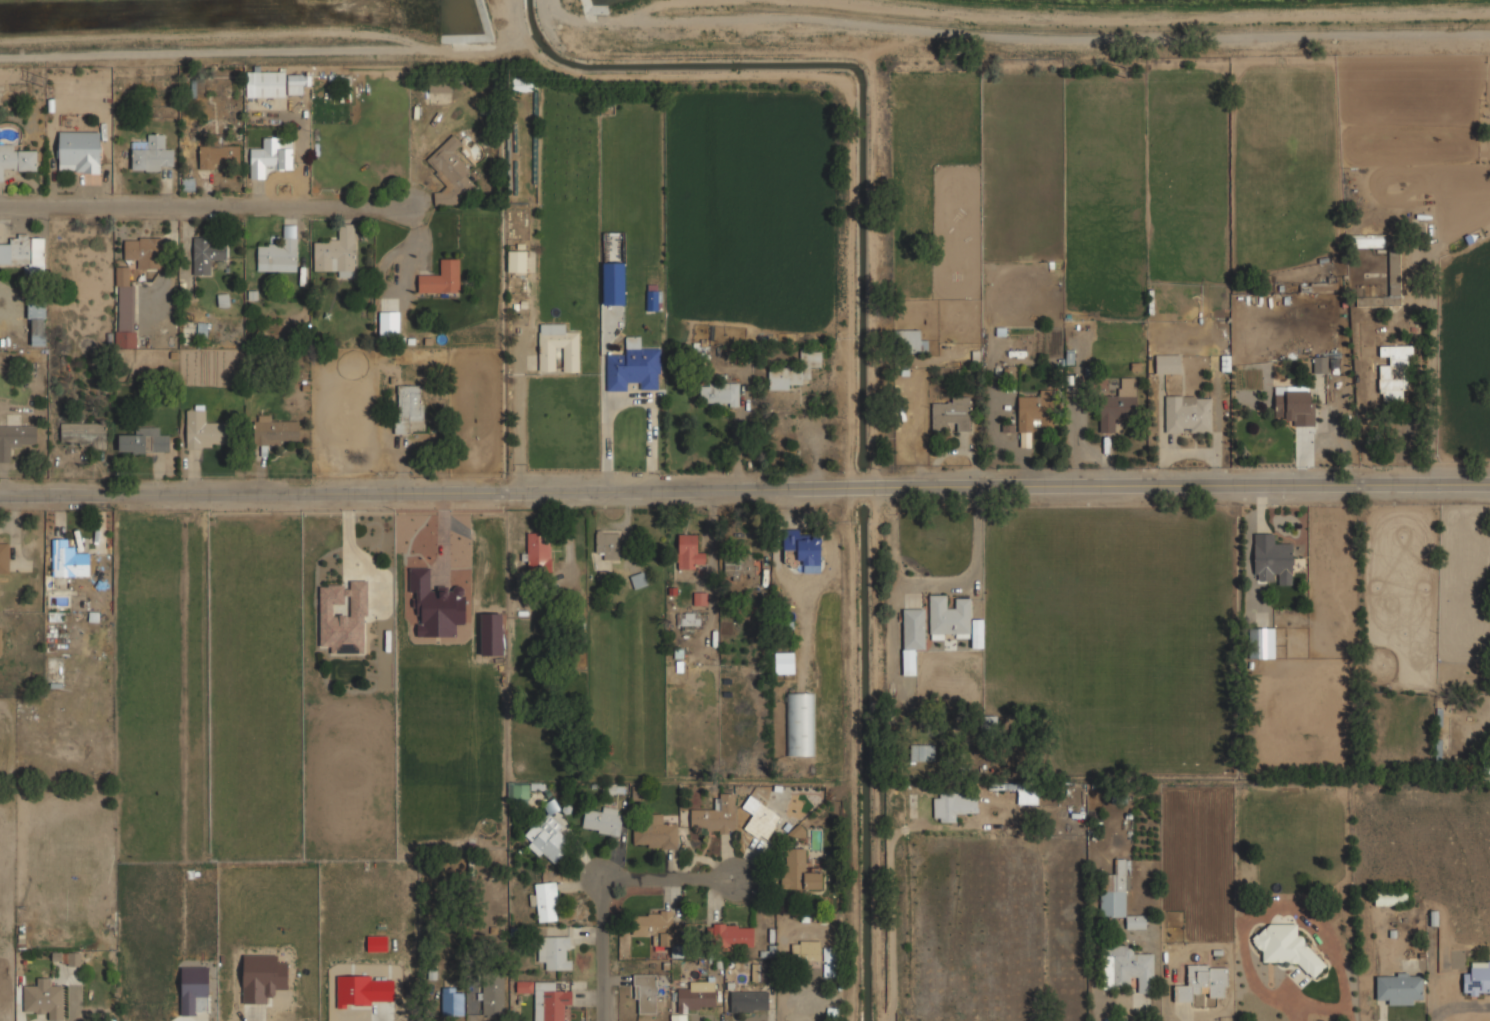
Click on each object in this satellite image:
building: (296, 83)
building: (265, 84)
building: (522, 84)
building: (439, 86)
building: (79, 151)
building: (151, 153)
building: (271, 156)
building: (219, 157)
building: (16, 159)
building: (450, 172)
road: (211, 202)
building: (289, 231)
building: (1367, 240)
building: (143, 252)
building: (24, 253)
building: (337, 253)
building: (208, 254)
building: (277, 256)
building: (516, 261)
building: (441, 278)
building: (613, 283)
building: (1389, 284)
building: (653, 297)
building: (222, 300)
building: (124, 309)
building: (36, 322)
building: (388, 324)
building: (909, 341)
building: (705, 350)
building: (570, 358)
building: (1168, 362)
building: (633, 366)
building: (795, 370)
building: (1395, 373)
building: (719, 393)
road: (521, 398)
building: (1118, 403)
building: (1295, 404)
building: (409, 408)
building: (1033, 411)
building: (1189, 413)
building: (952, 414)
building: (204, 430)
building: (274, 430)
building: (84, 433)
building: (15, 439)
building: (143, 440)
road: (744, 482)
road: (347, 528)
building: (608, 544)
building: (805, 549)
building: (539, 550)
building: (690, 552)
building: (4, 555)
building: (1272, 559)
building: (69, 560)
building: (740, 565)
building: (638, 580)
building: (700, 597)
building: (436, 608)
building: (344, 616)
building: (949, 617)
building: (686, 619)
building: (977, 633)
building: (490, 634)
building: (912, 637)
building: (0, 641)
building: (1266, 643)
building: (802, 724)
building: (923, 752)
building: (616, 788)
building: (520, 794)
building: (1024, 798)
building: (949, 806)
building: (712, 819)
building: (604, 820)
building: (762, 822)
building: (654, 832)
building: (795, 833)
building: (547, 837)
building: (798, 870)
road: (632, 886)
building: (1118, 897)
building: (1391, 898)
building: (547, 901)
road: (889, 912)
building: (655, 931)
building: (734, 936)
building: (376, 943)
building: (1284, 947)
building: (807, 951)
building: (554, 952)
building: (1127, 967)
building: (262, 977)
building: (1476, 979)
building: (1202, 984)
building: (524, 986)
building: (1399, 988)
building: (194, 989)
building: (363, 990)
building: (646, 993)
building: (697, 996)
building: (493, 997)
building: (45, 998)
building: (749, 1000)
building: (453, 1001)
building: (549, 1001)

